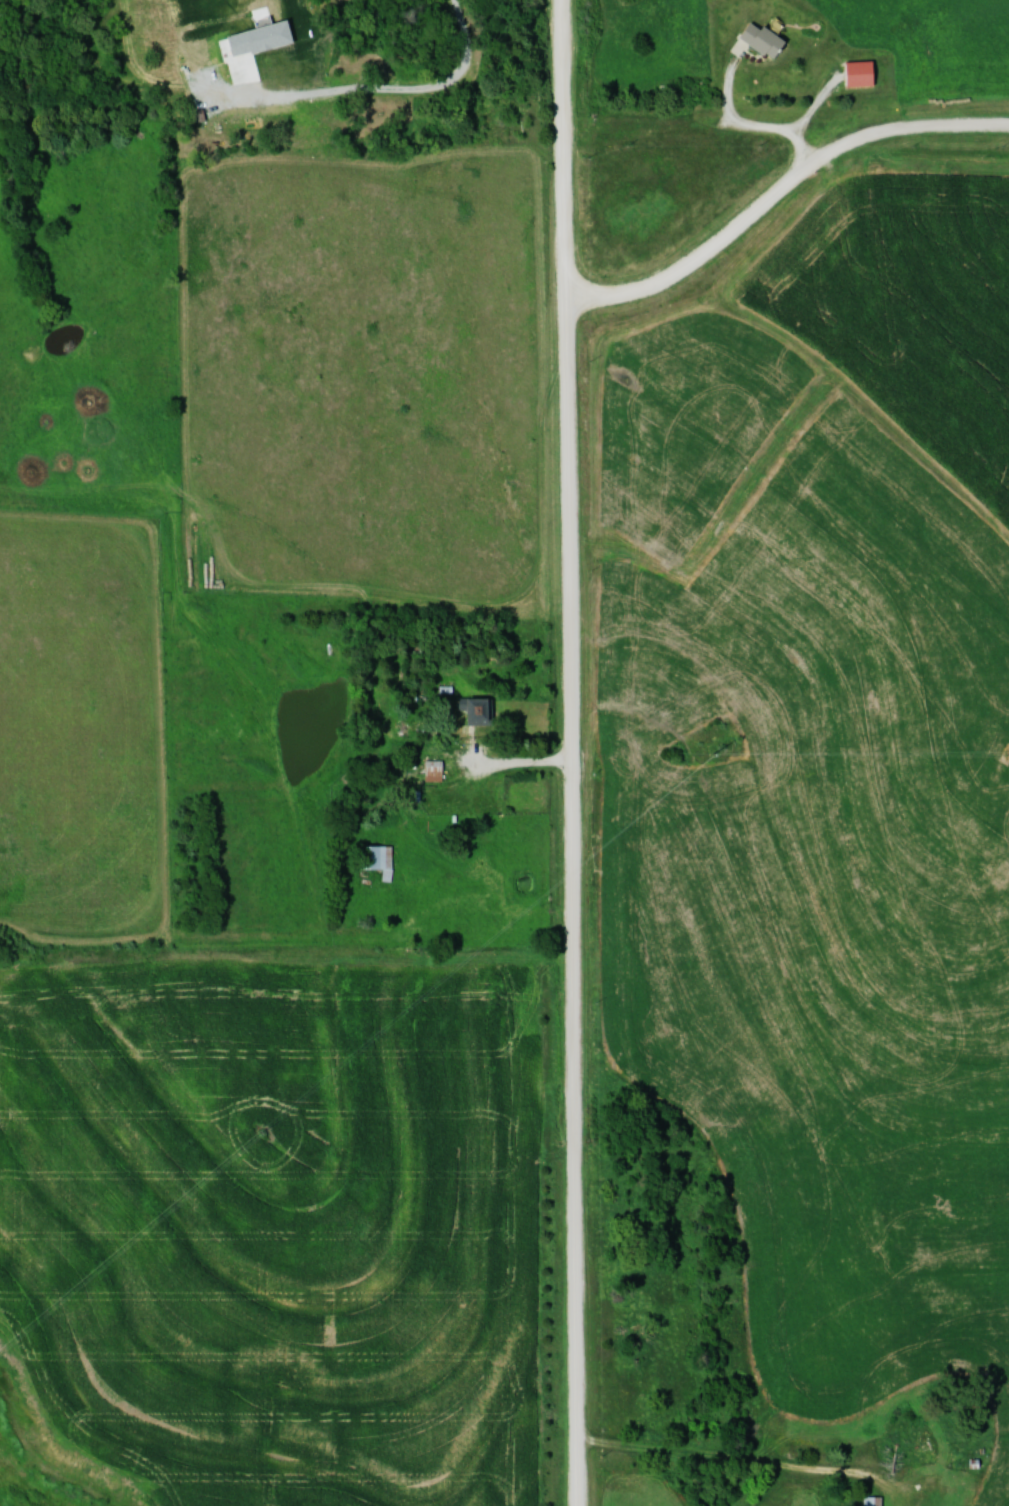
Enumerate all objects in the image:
building: (764, 39)
road: (293, 72)
building: (862, 73)
road: (457, 87)
road: (779, 181)
building: (479, 710)
road: (575, 752)
road: (516, 765)
building: (435, 770)
building: (381, 859)
road: (747, 1460)
building: (874, 1501)

